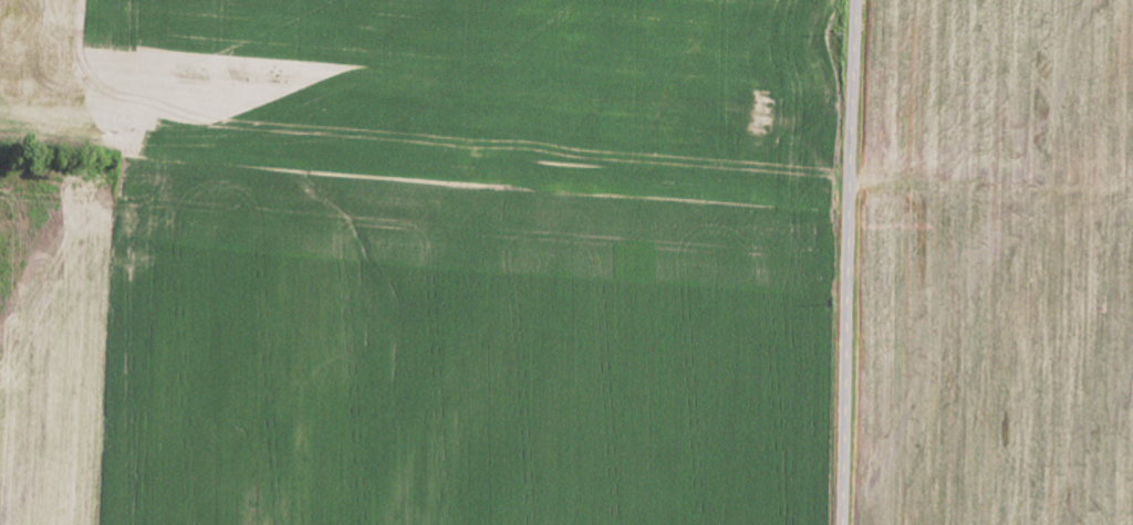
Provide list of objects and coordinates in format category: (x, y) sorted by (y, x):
road: (850, 262)

